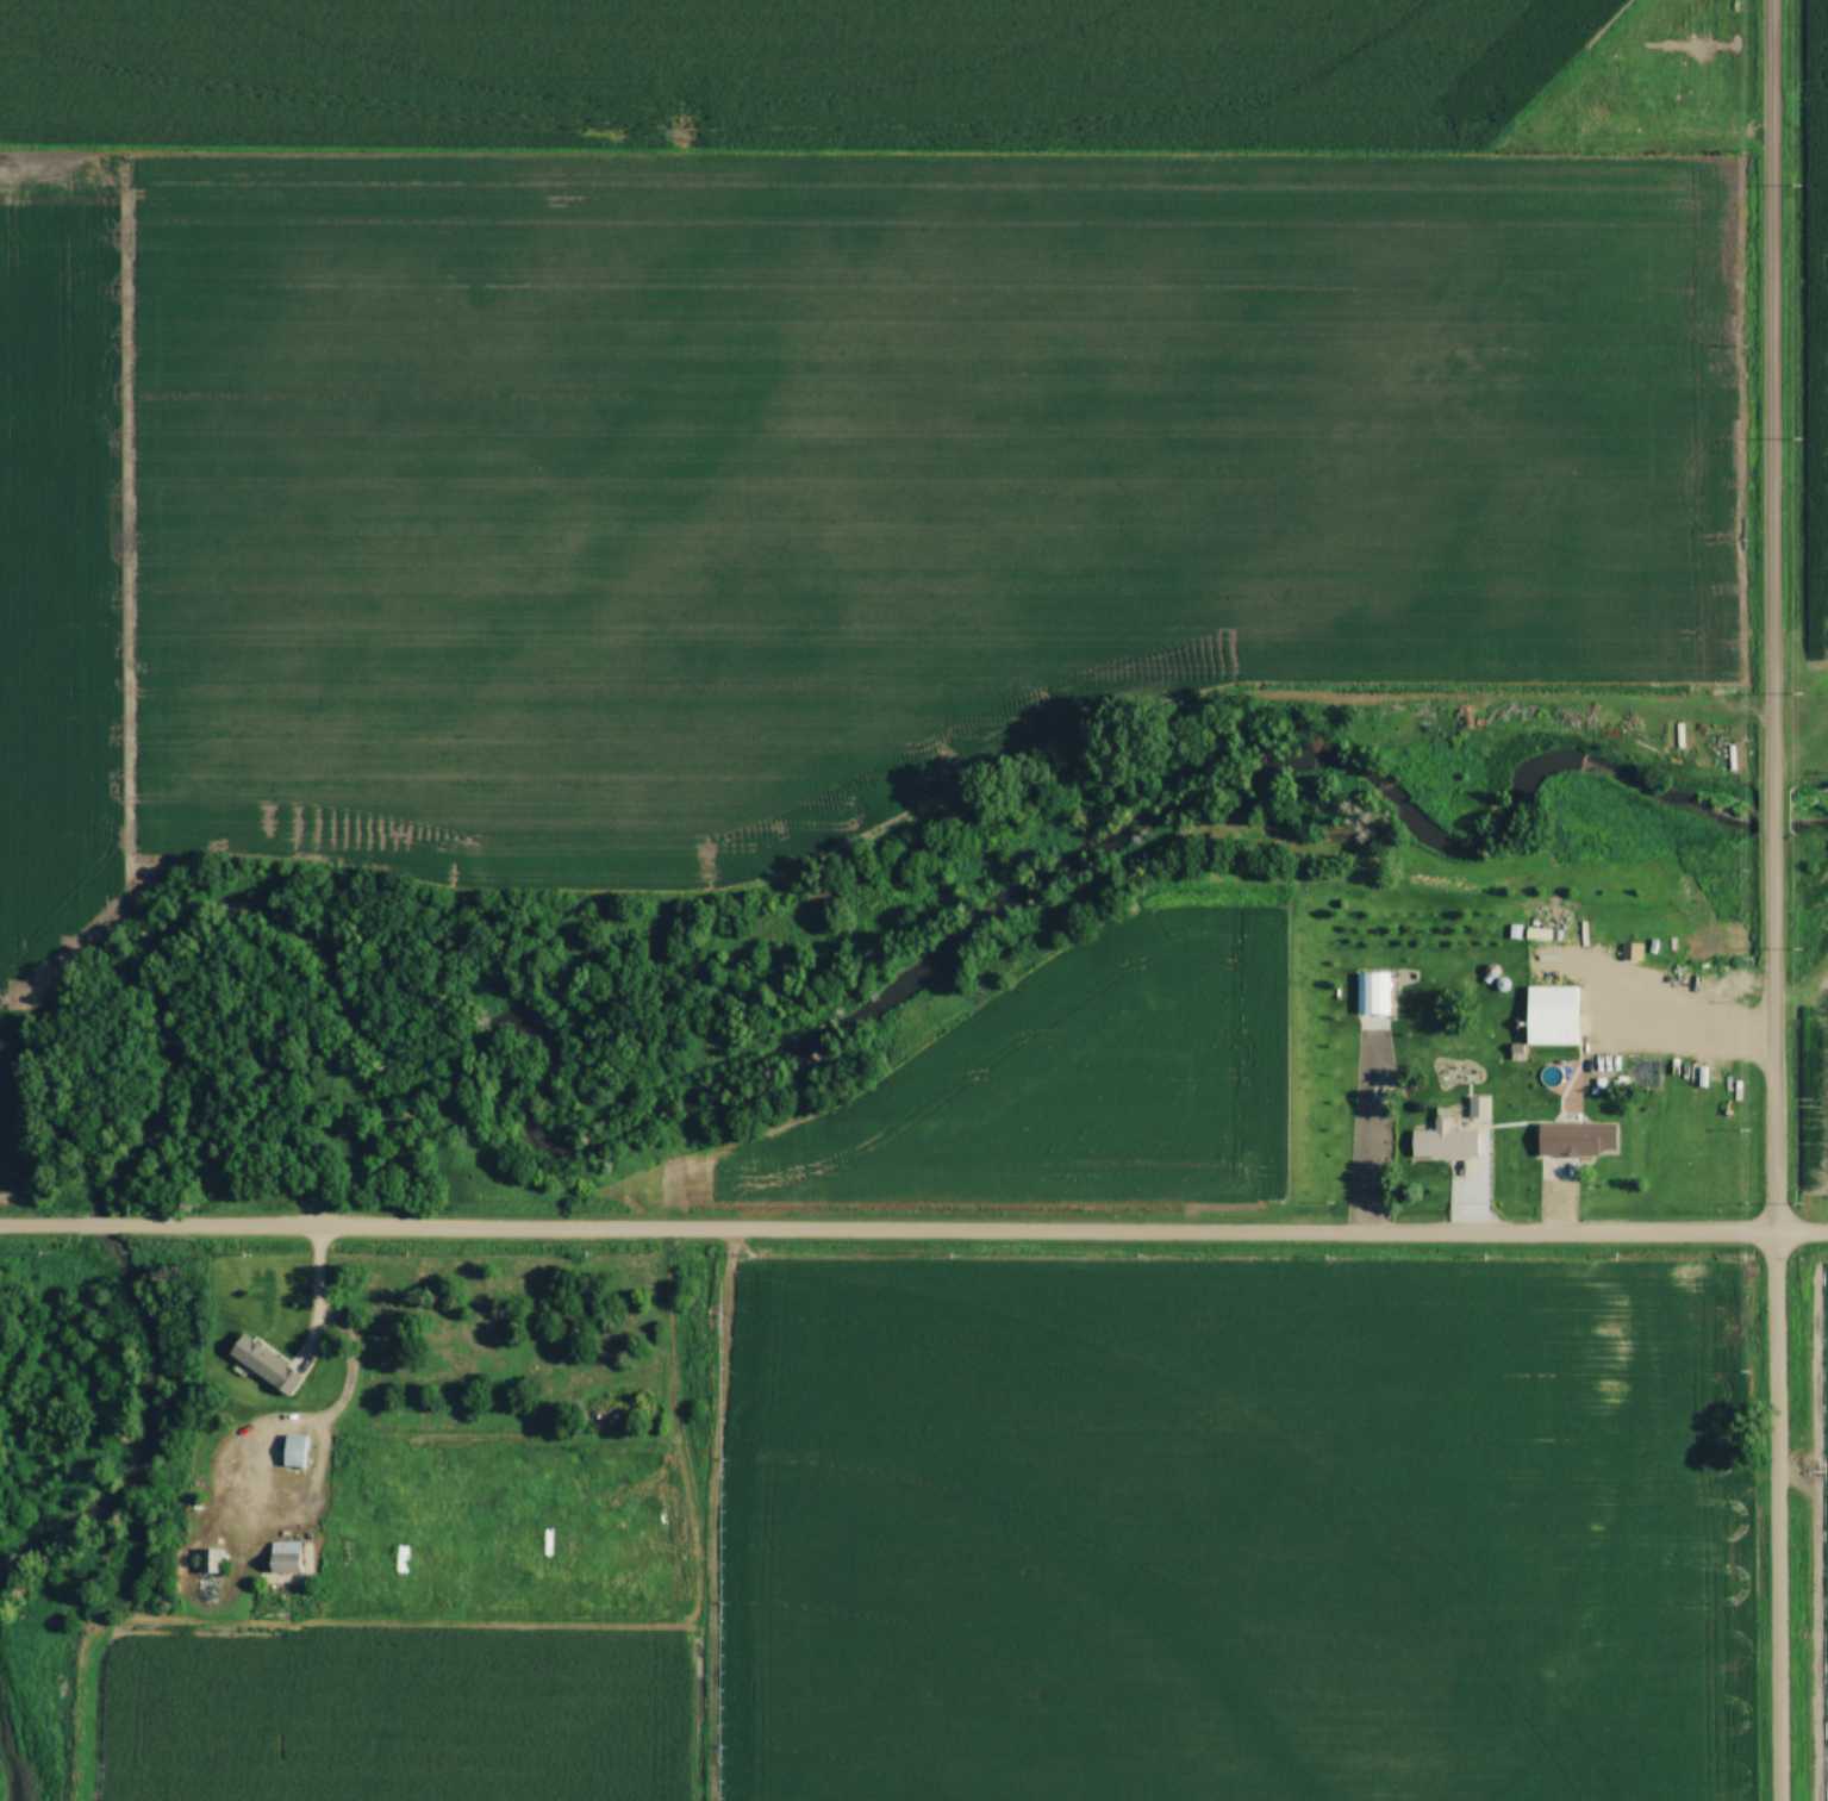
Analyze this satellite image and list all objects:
road: (1771, 393)
road: (1772, 808)
building: (1504, 922)
building: (1540, 935)
building: (1633, 953)
building: (1554, 1024)
road: (1679, 1032)
building: (1479, 1108)
building: (1589, 1140)
building: (1446, 1142)
road: (42, 1226)
road: (105, 1226)
road: (977, 1233)
road: (1772, 1314)
road: (312, 1364)
building: (268, 1366)
building: (297, 1453)
building: (287, 1558)
building: (211, 1563)

